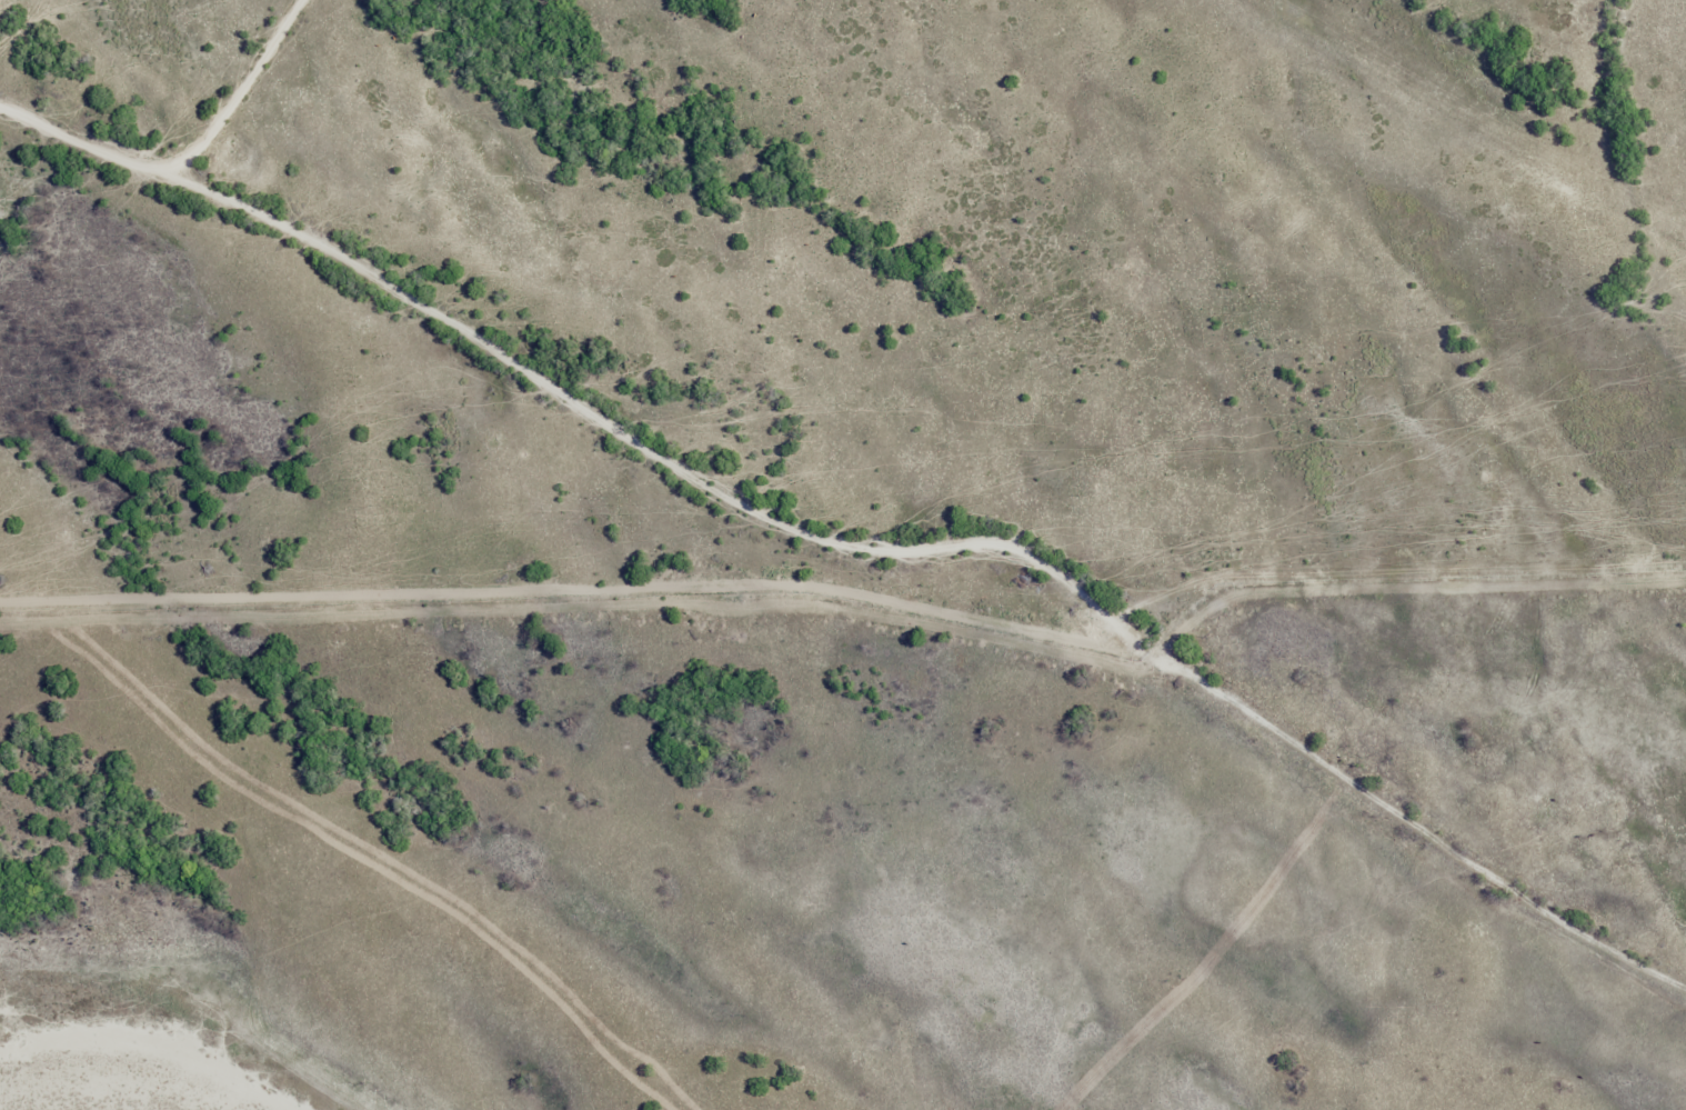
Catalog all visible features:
road: (864, 517)

